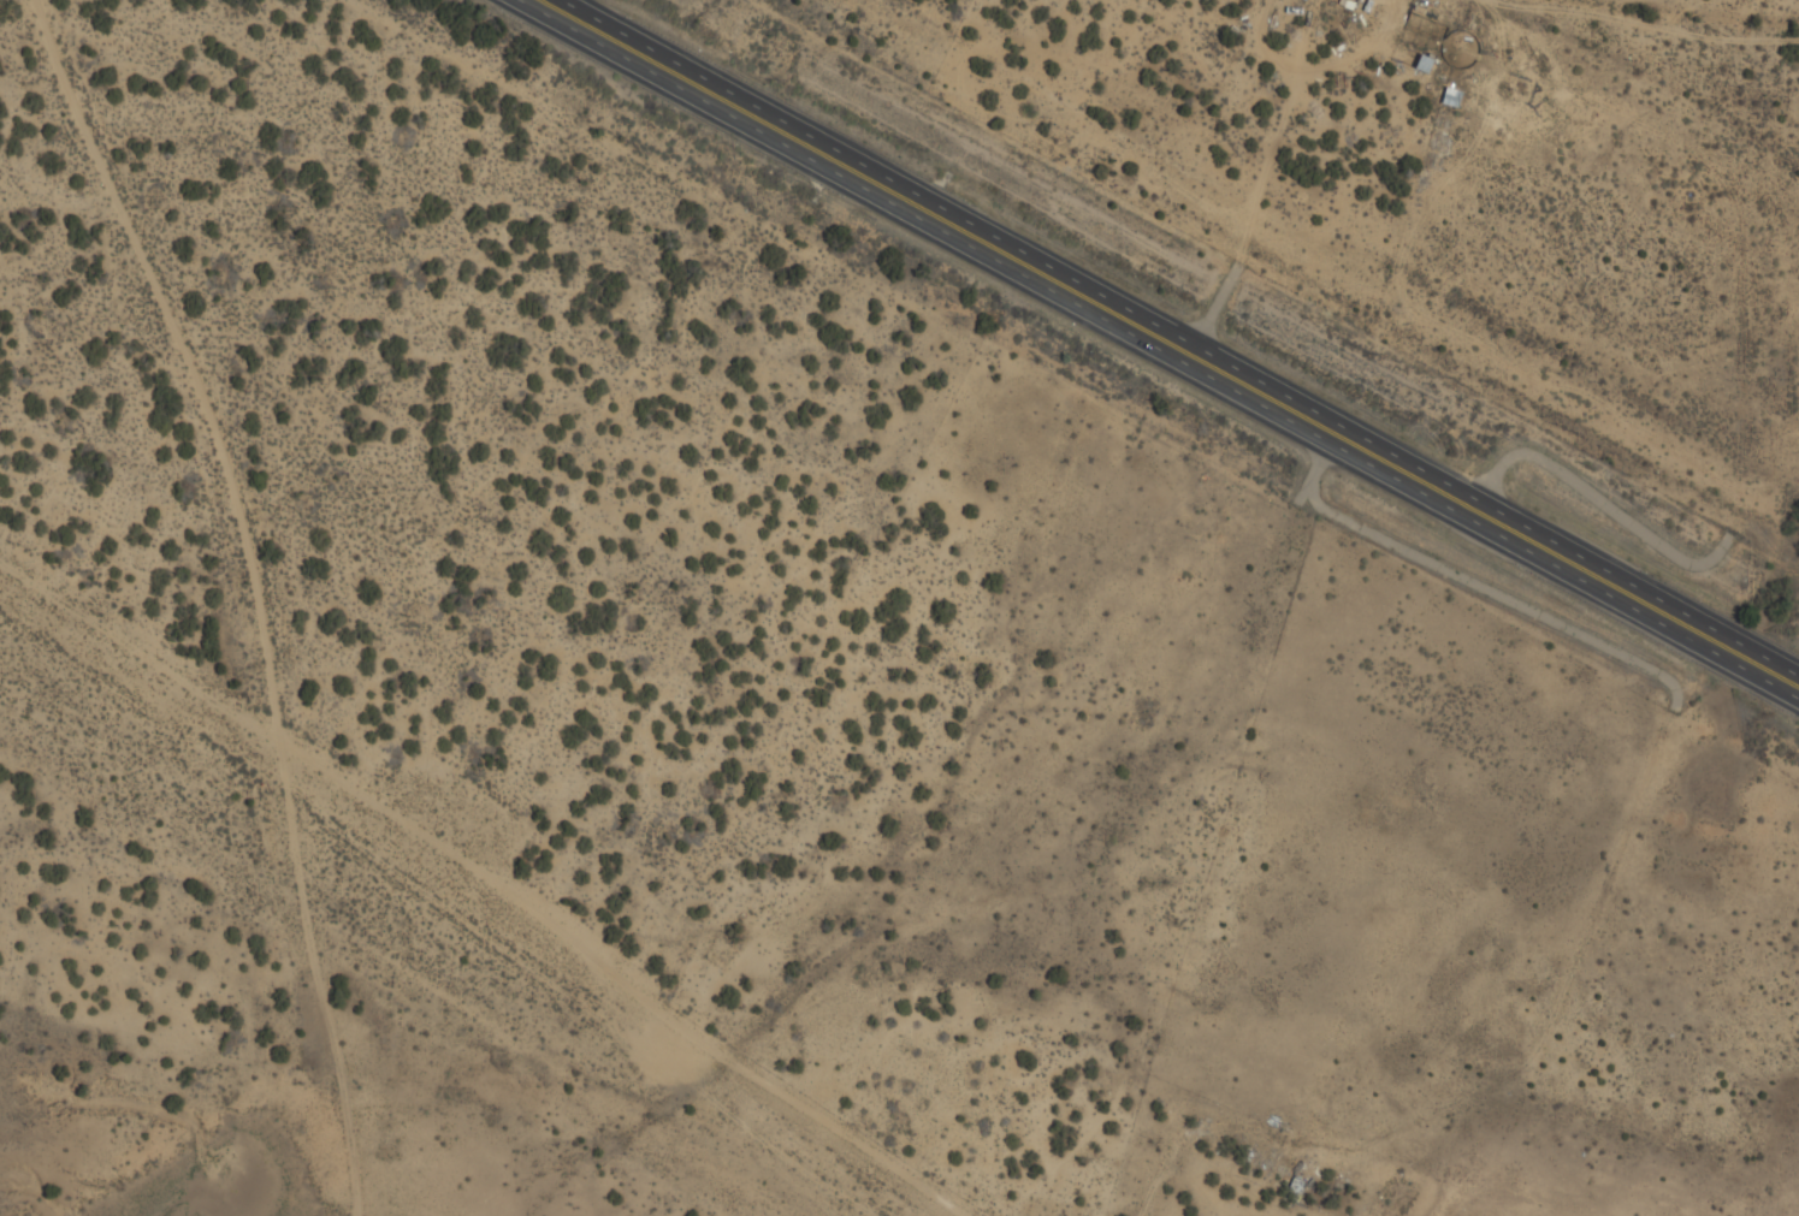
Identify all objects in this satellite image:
building: (1454, 99)
road: (1177, 338)
road: (1153, 352)
road: (255, 593)
building: (1296, 1188)

